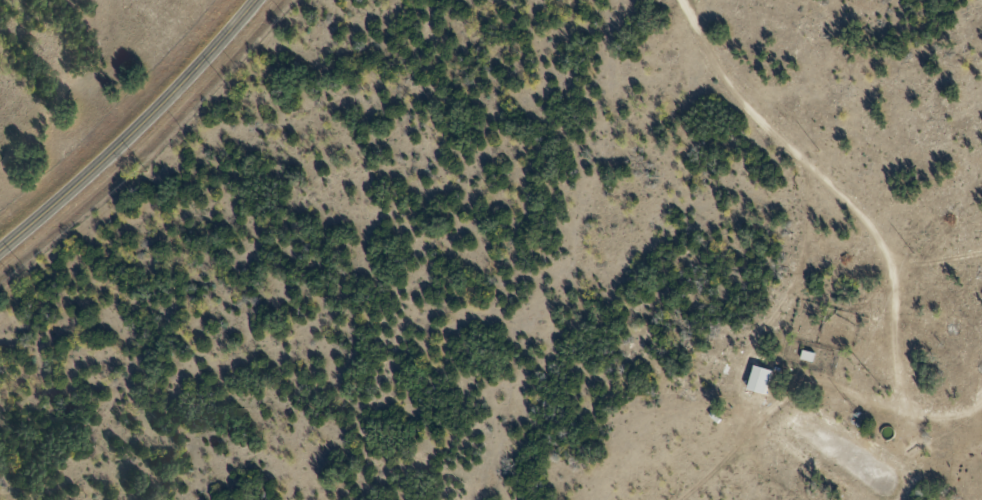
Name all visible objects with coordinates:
road: (133, 131)

